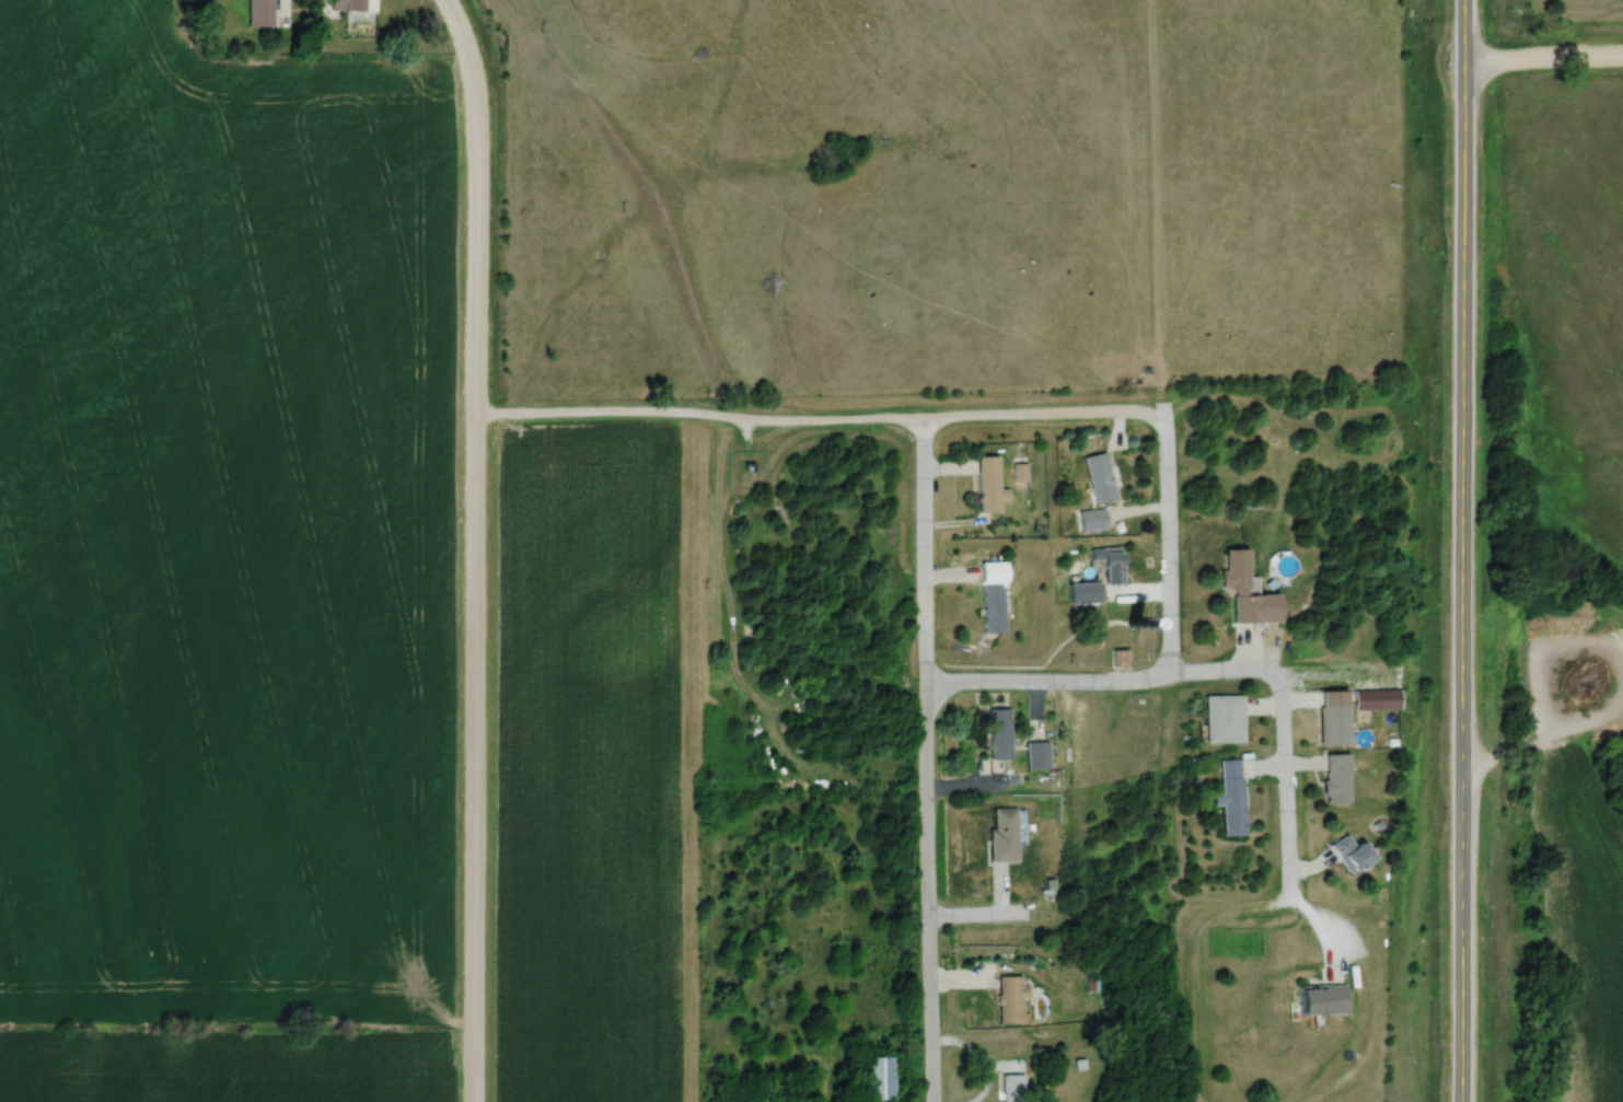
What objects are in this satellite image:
building: (352, 5)
building: (259, 14)
road: (1543, 65)
road: (1463, 216)
road: (818, 414)
building: (1099, 478)
building: (989, 486)
building: (1091, 520)
road: (1163, 544)
road: (474, 546)
building: (995, 572)
building: (1099, 577)
building: (1247, 591)
building: (993, 610)
building: (1120, 659)
road: (1584, 672)
road: (1094, 674)
building: (1388, 699)
building: (1334, 718)
building: (1224, 719)
building: (998, 734)
building: (1036, 755)
road: (930, 757)
road: (1495, 757)
crop: (582, 765)
road: (1463, 767)
building: (1337, 779)
building: (1231, 798)
road: (1278, 825)
building: (1004, 835)
building: (1352, 855)
road: (984, 910)
building: (1011, 1000)
building: (1322, 1000)
building: (880, 1079)
building: (1012, 1088)

